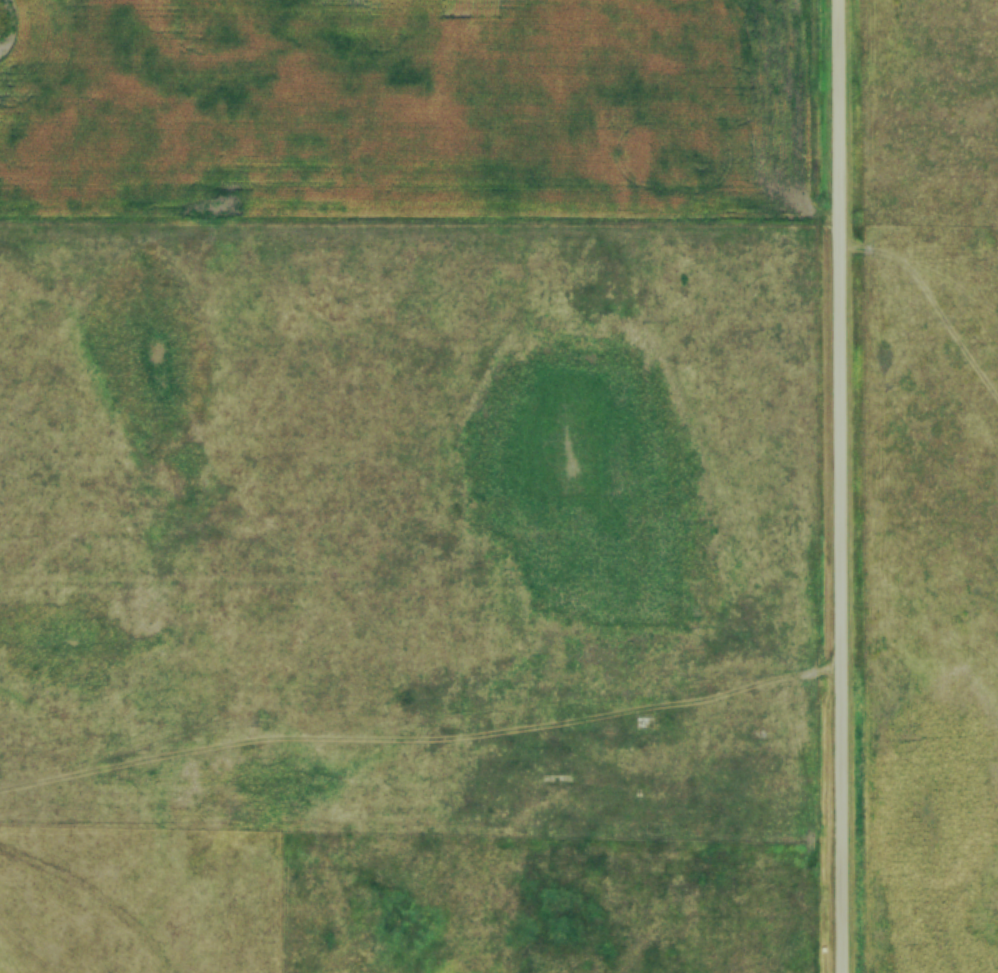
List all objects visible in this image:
road: (841, 486)

